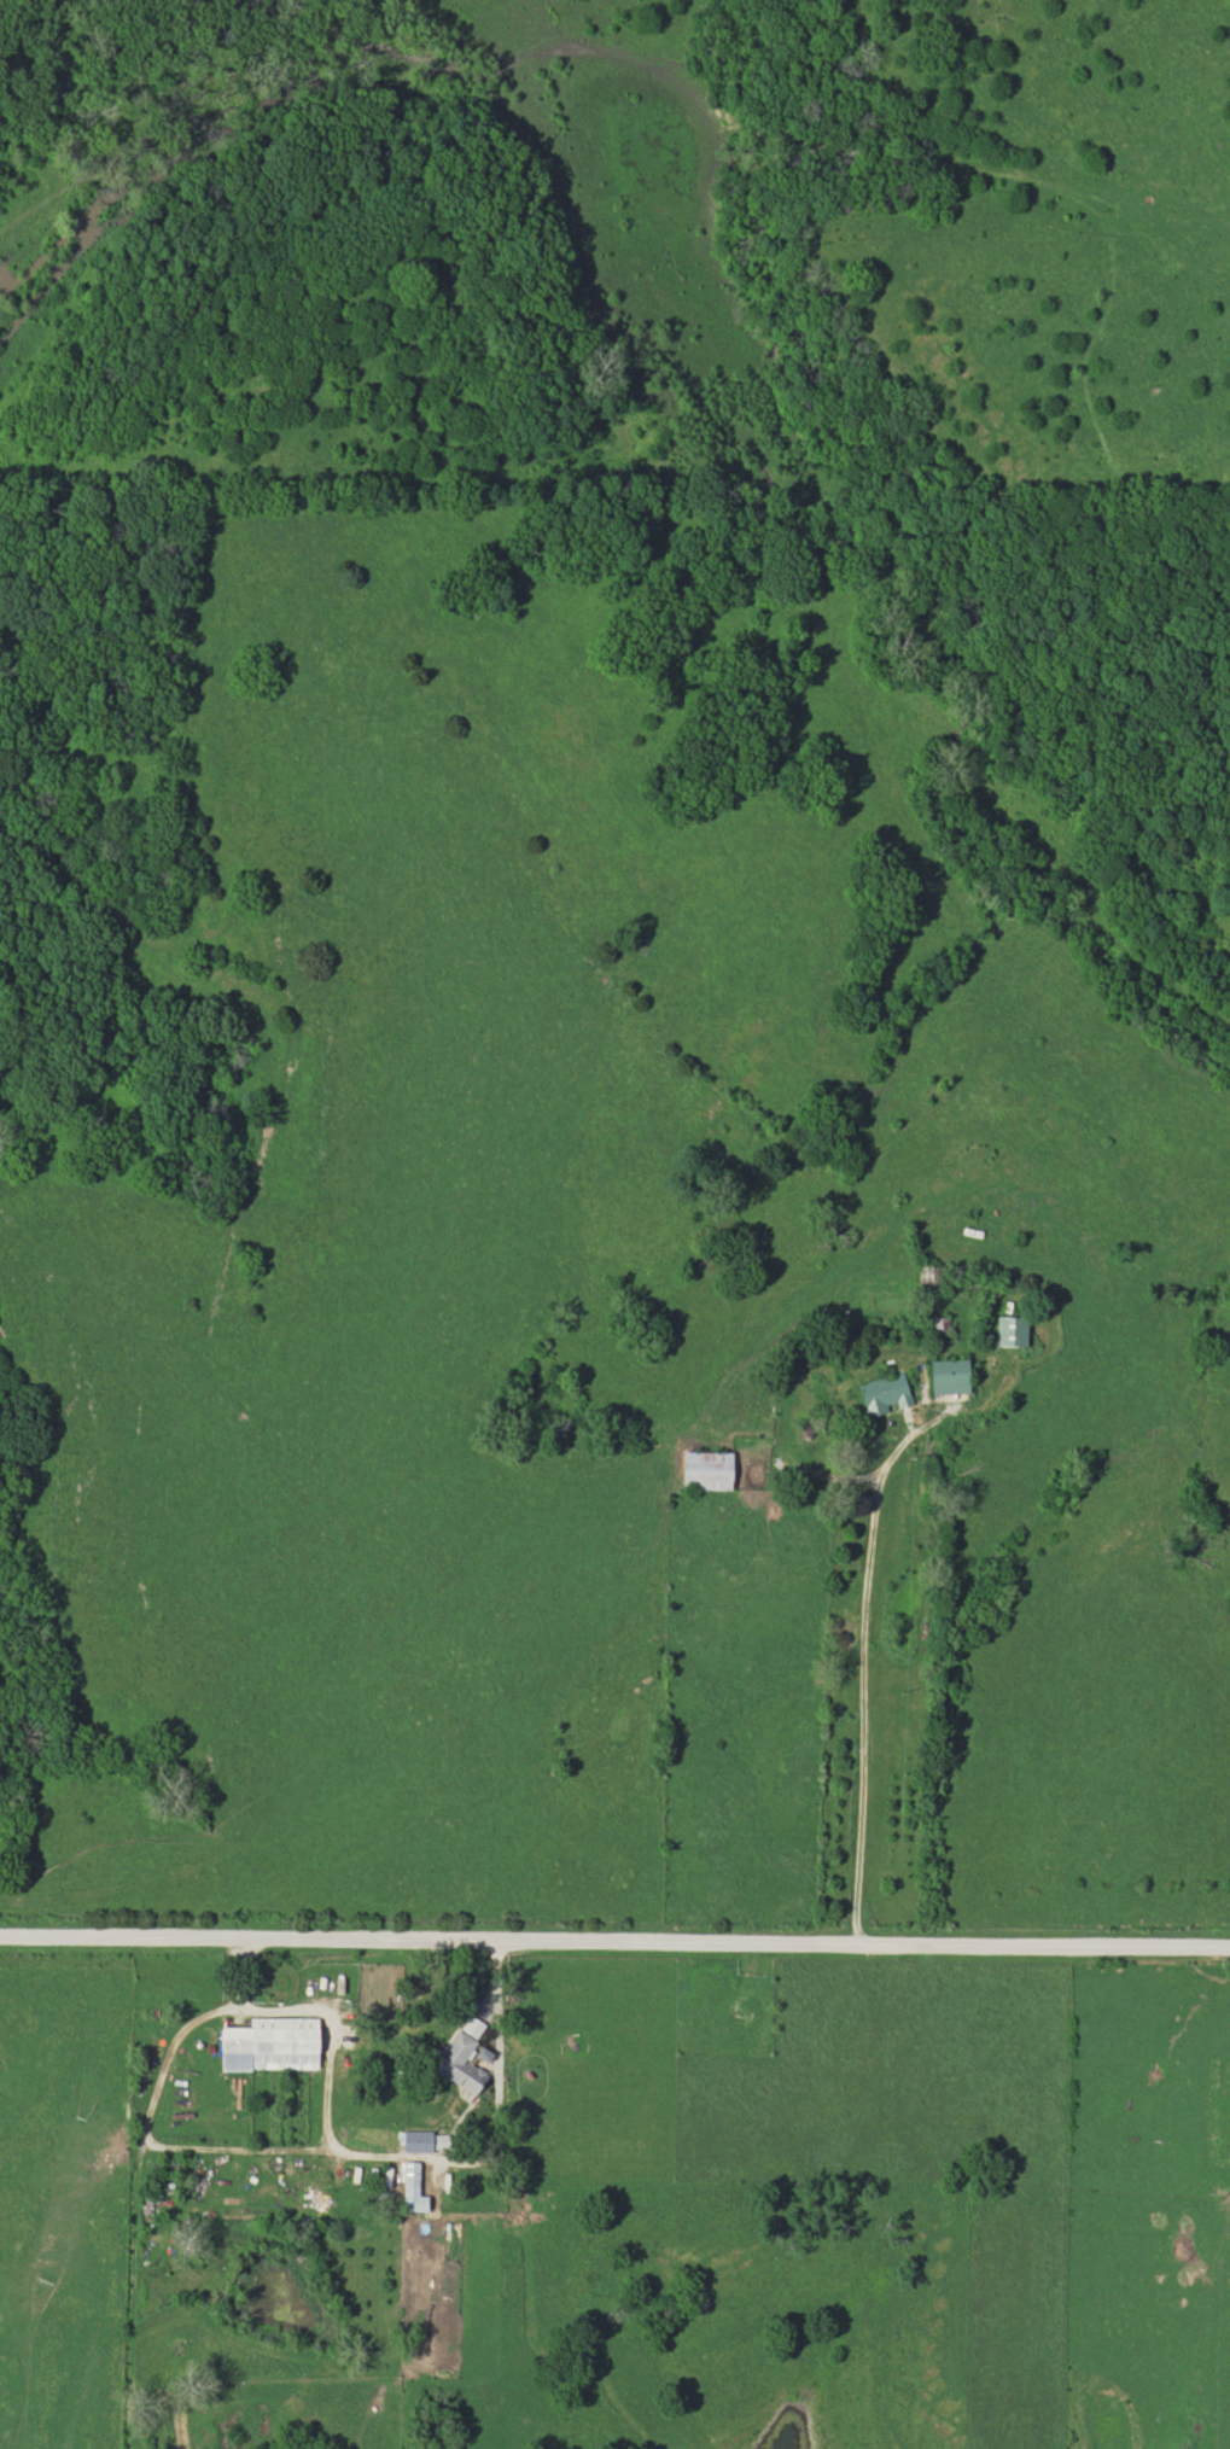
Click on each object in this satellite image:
building: (926, 1281)
building: (1008, 1330)
building: (945, 1376)
building: (880, 1393)
building: (704, 1469)
road: (862, 1658)
road: (614, 1941)
building: (267, 2045)
building: (454, 2064)
road: (214, 2151)
building: (410, 2169)

